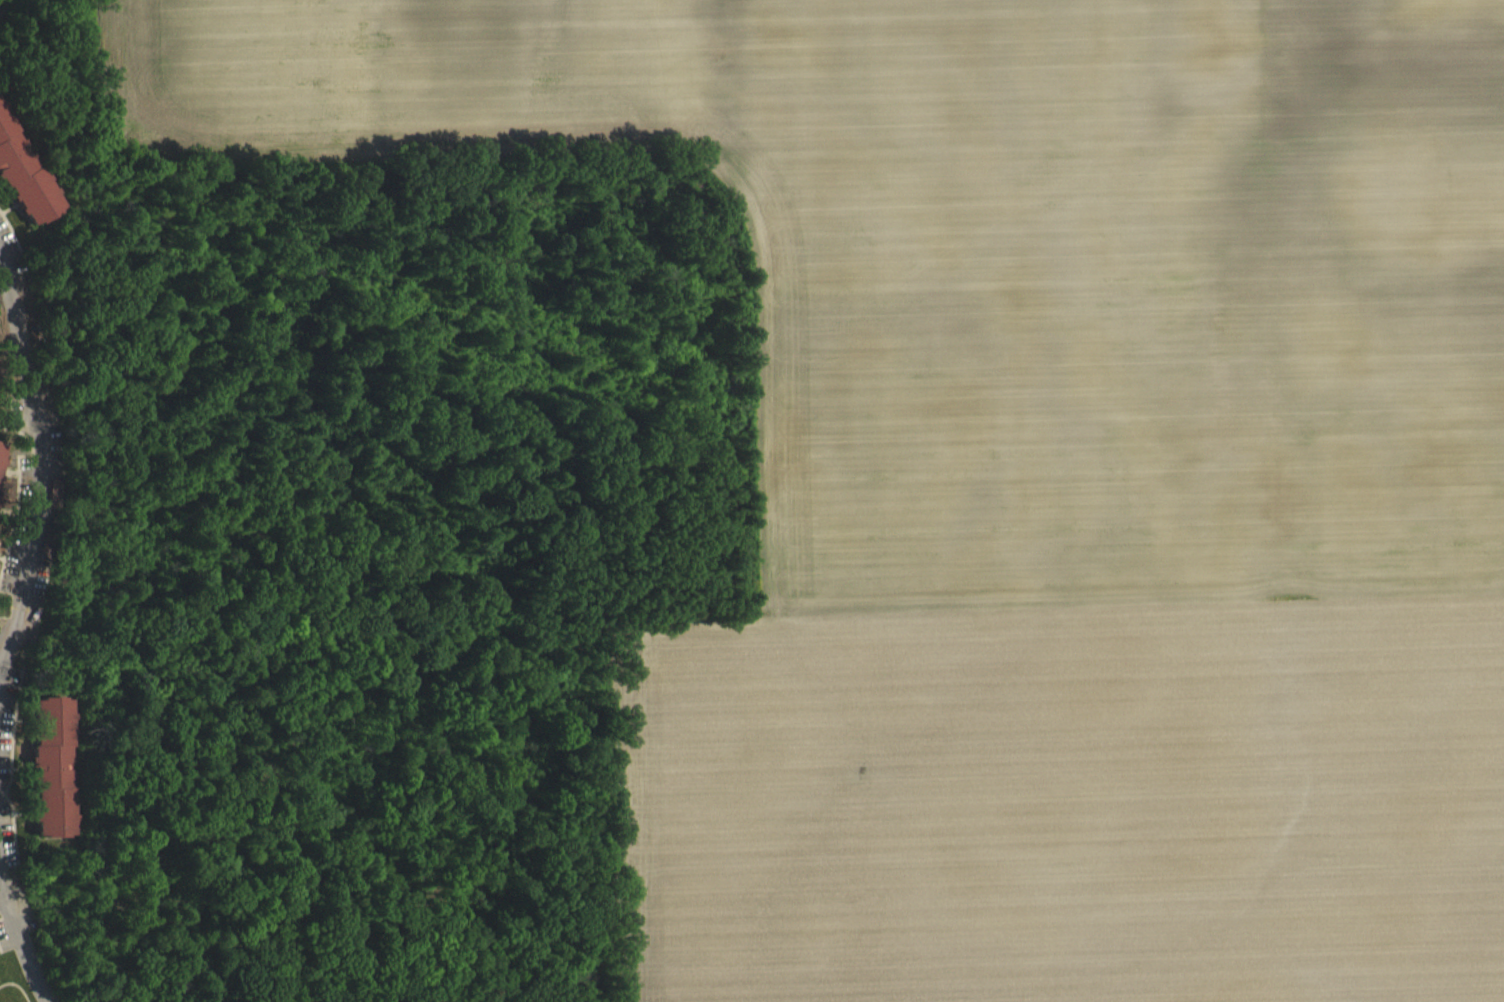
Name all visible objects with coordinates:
road: (0, 1)
building: (19, 186)
building: (0, 457)
road: (40, 465)
building: (48, 778)
road: (24, 950)

